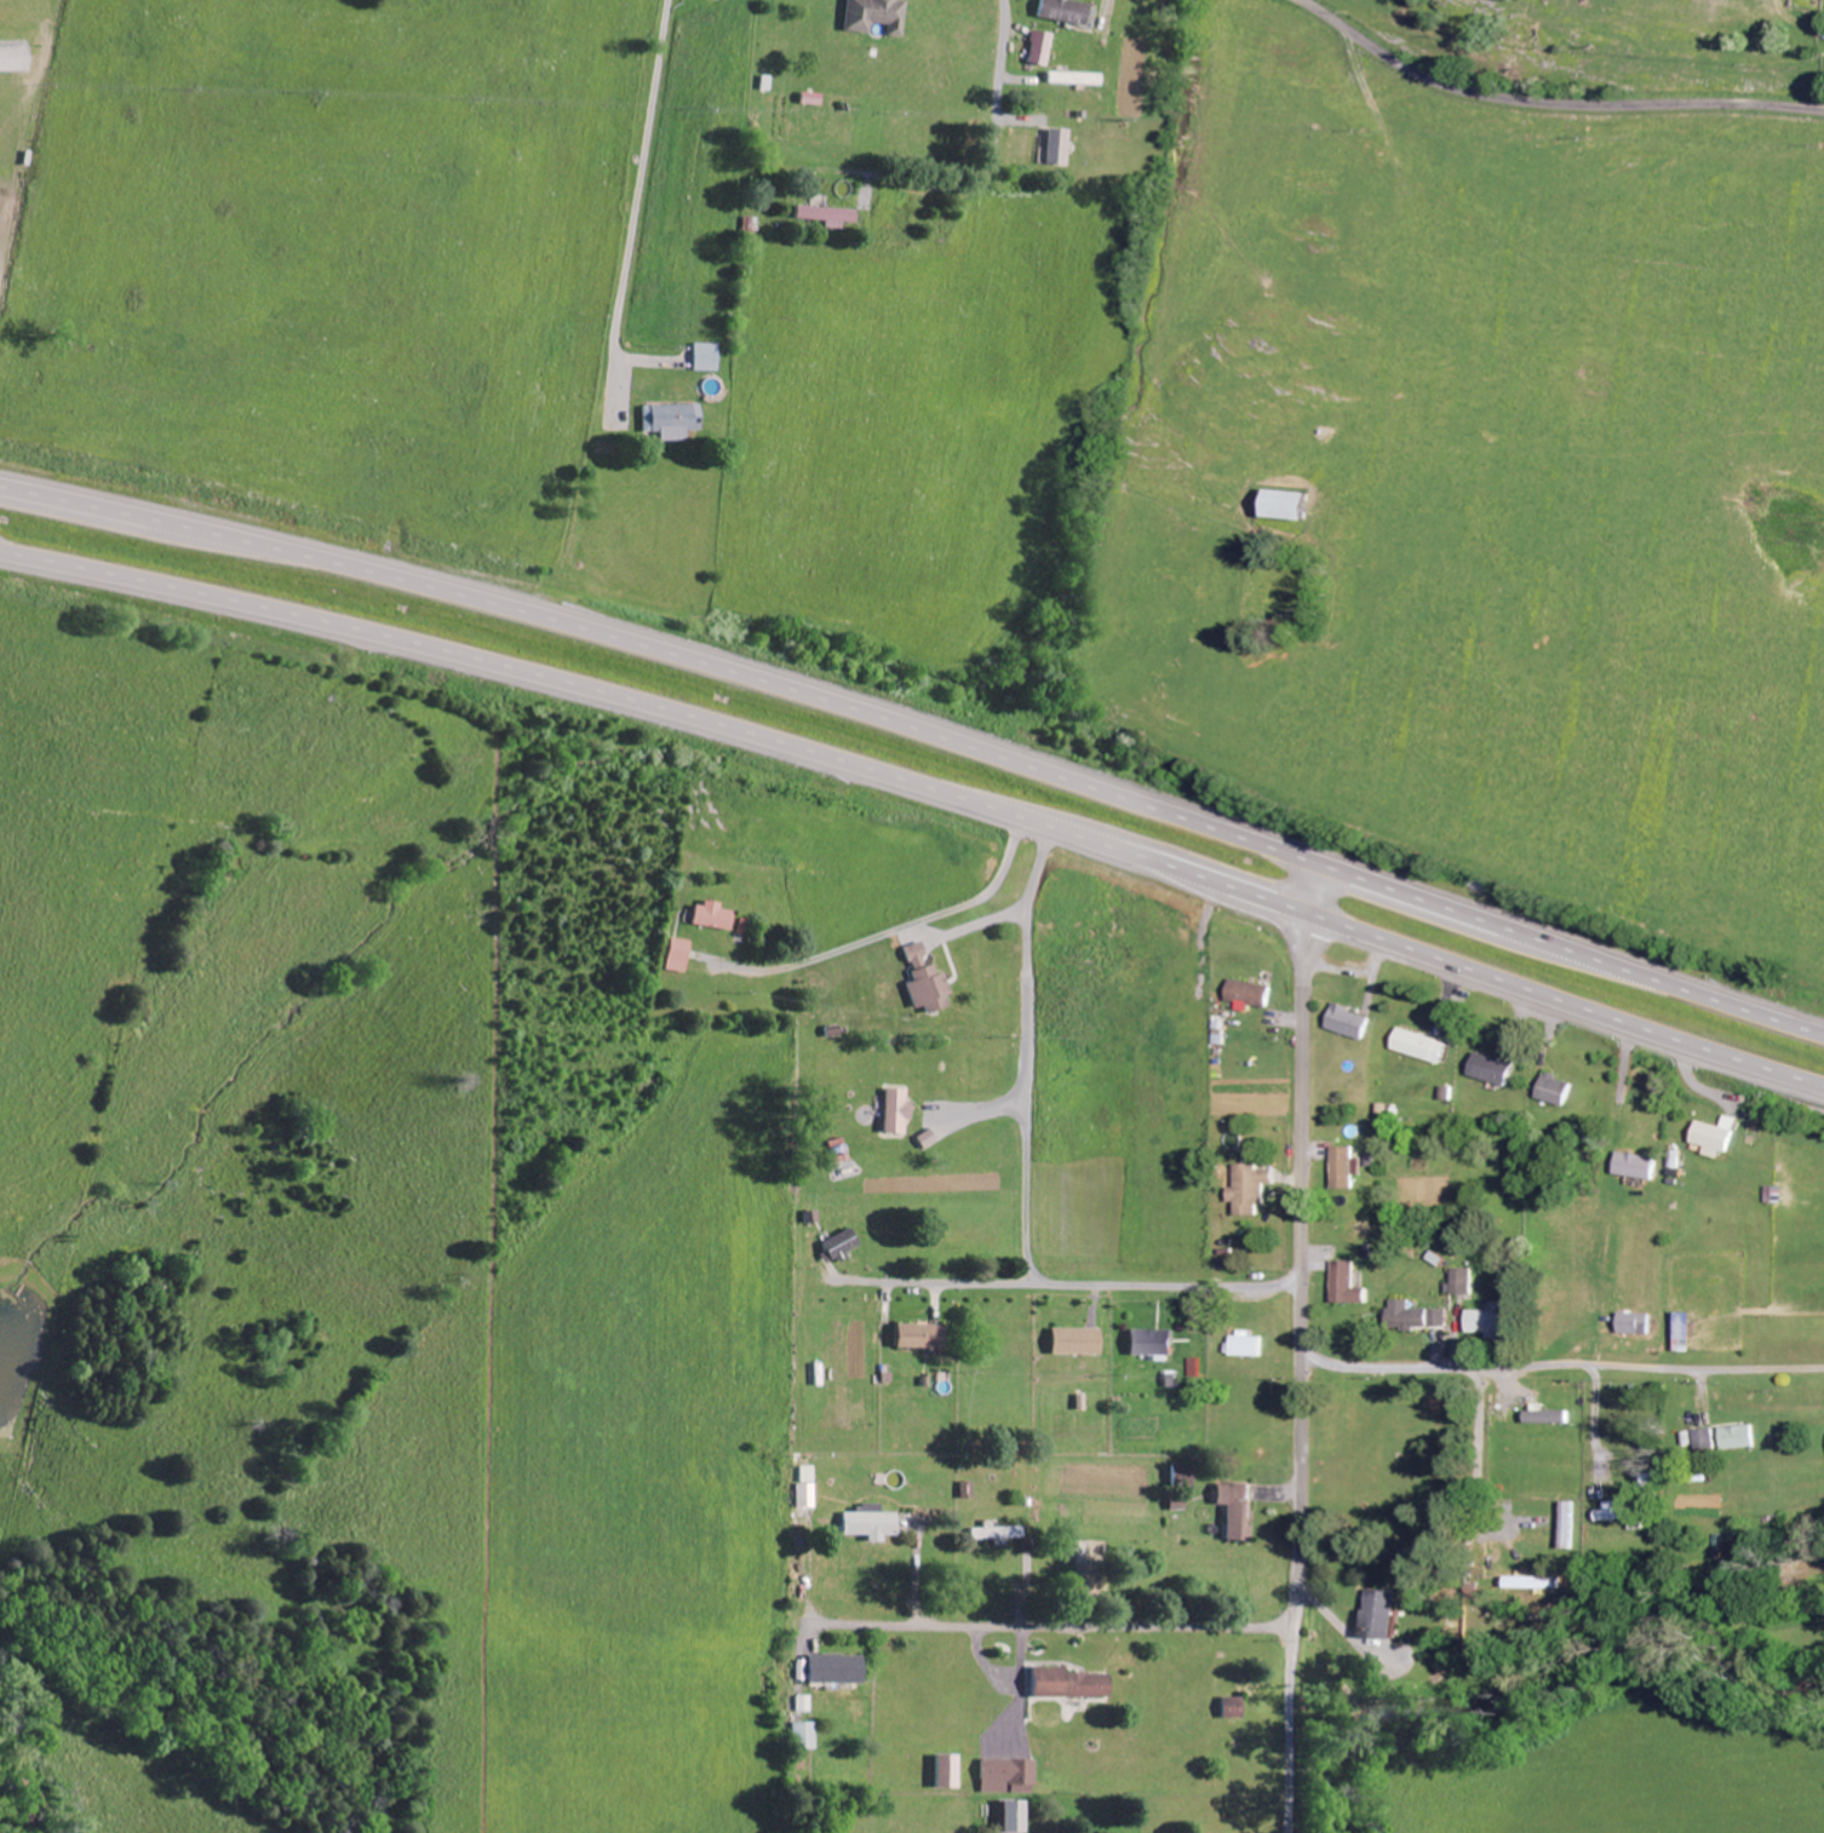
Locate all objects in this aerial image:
road: (1549, 104)
road: (987, 173)
road: (635, 211)
road: (11, 289)
road: (920, 732)
road: (922, 785)
road: (890, 932)
road: (1027, 1055)
road: (1067, 1285)
road: (1302, 1349)
road: (1562, 1367)
road: (1591, 1423)
road: (1484, 1449)
road: (1050, 1627)

